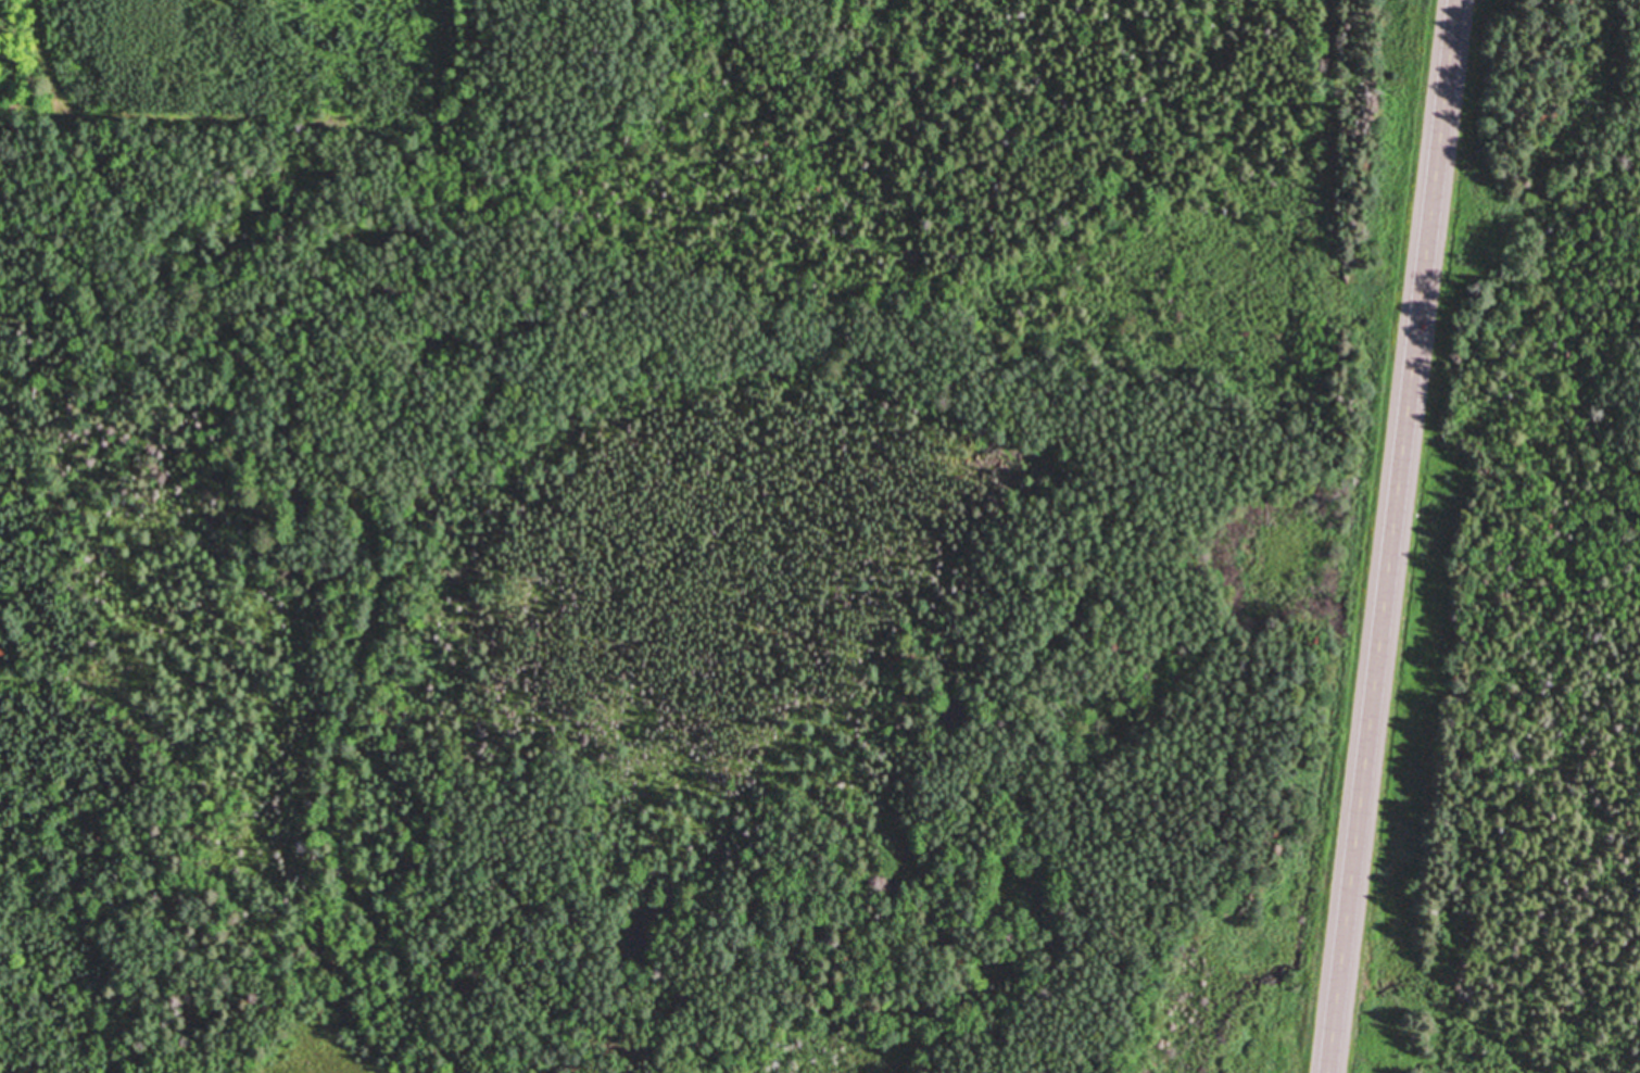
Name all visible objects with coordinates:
road: (1392, 535)

